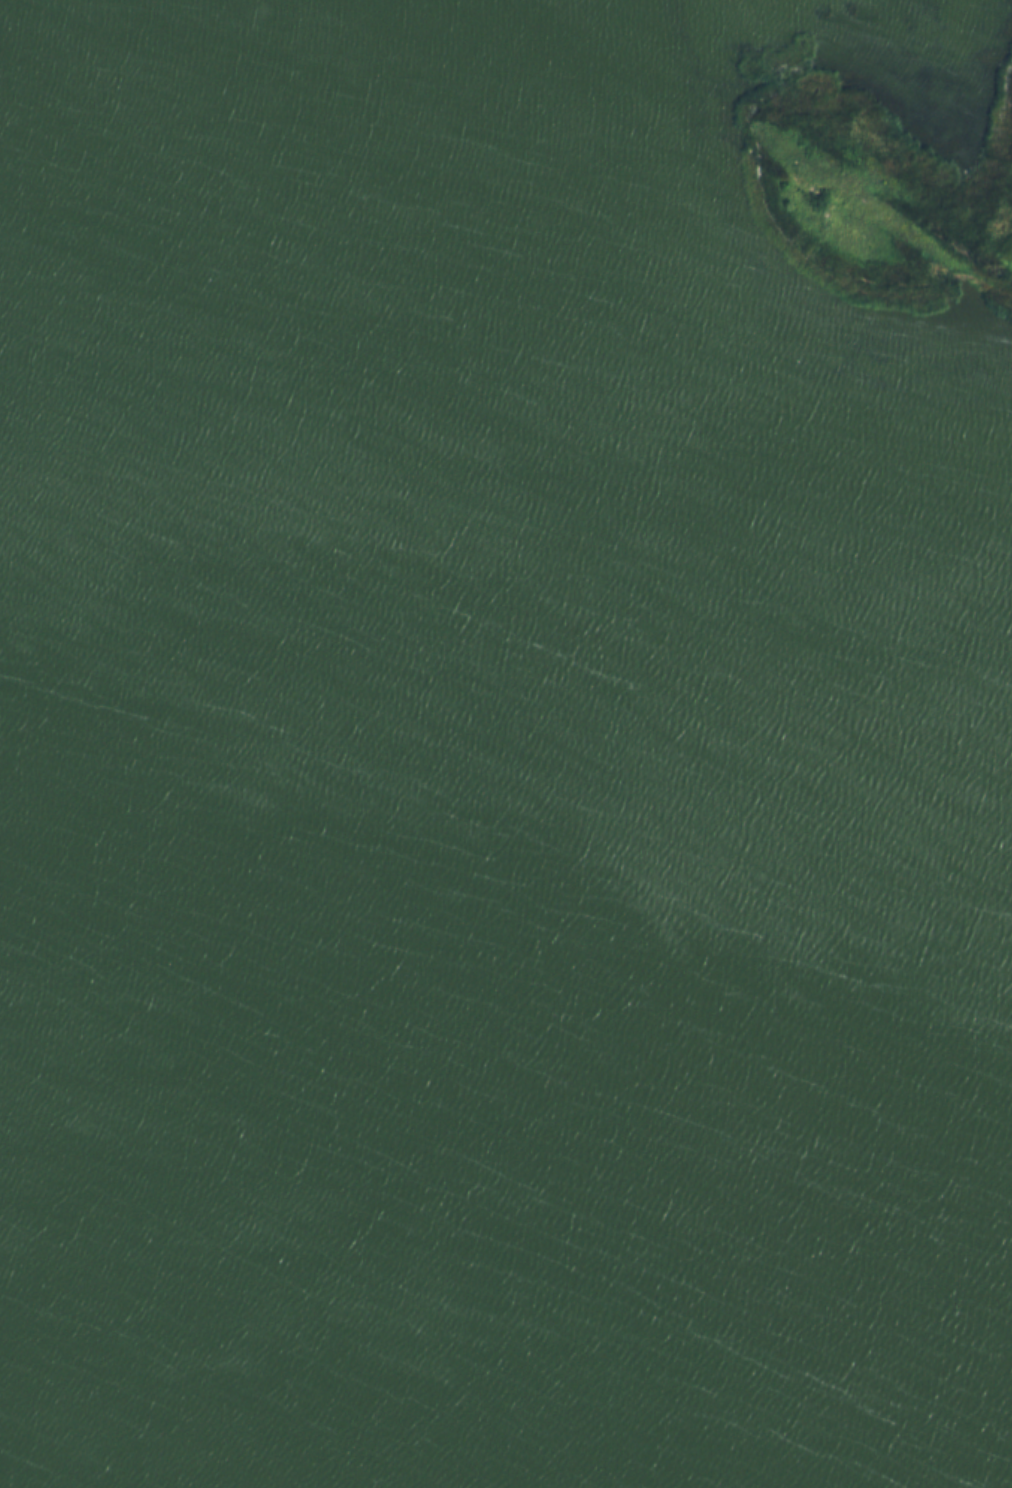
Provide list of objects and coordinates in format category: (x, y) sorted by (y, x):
road: (819, 167)

